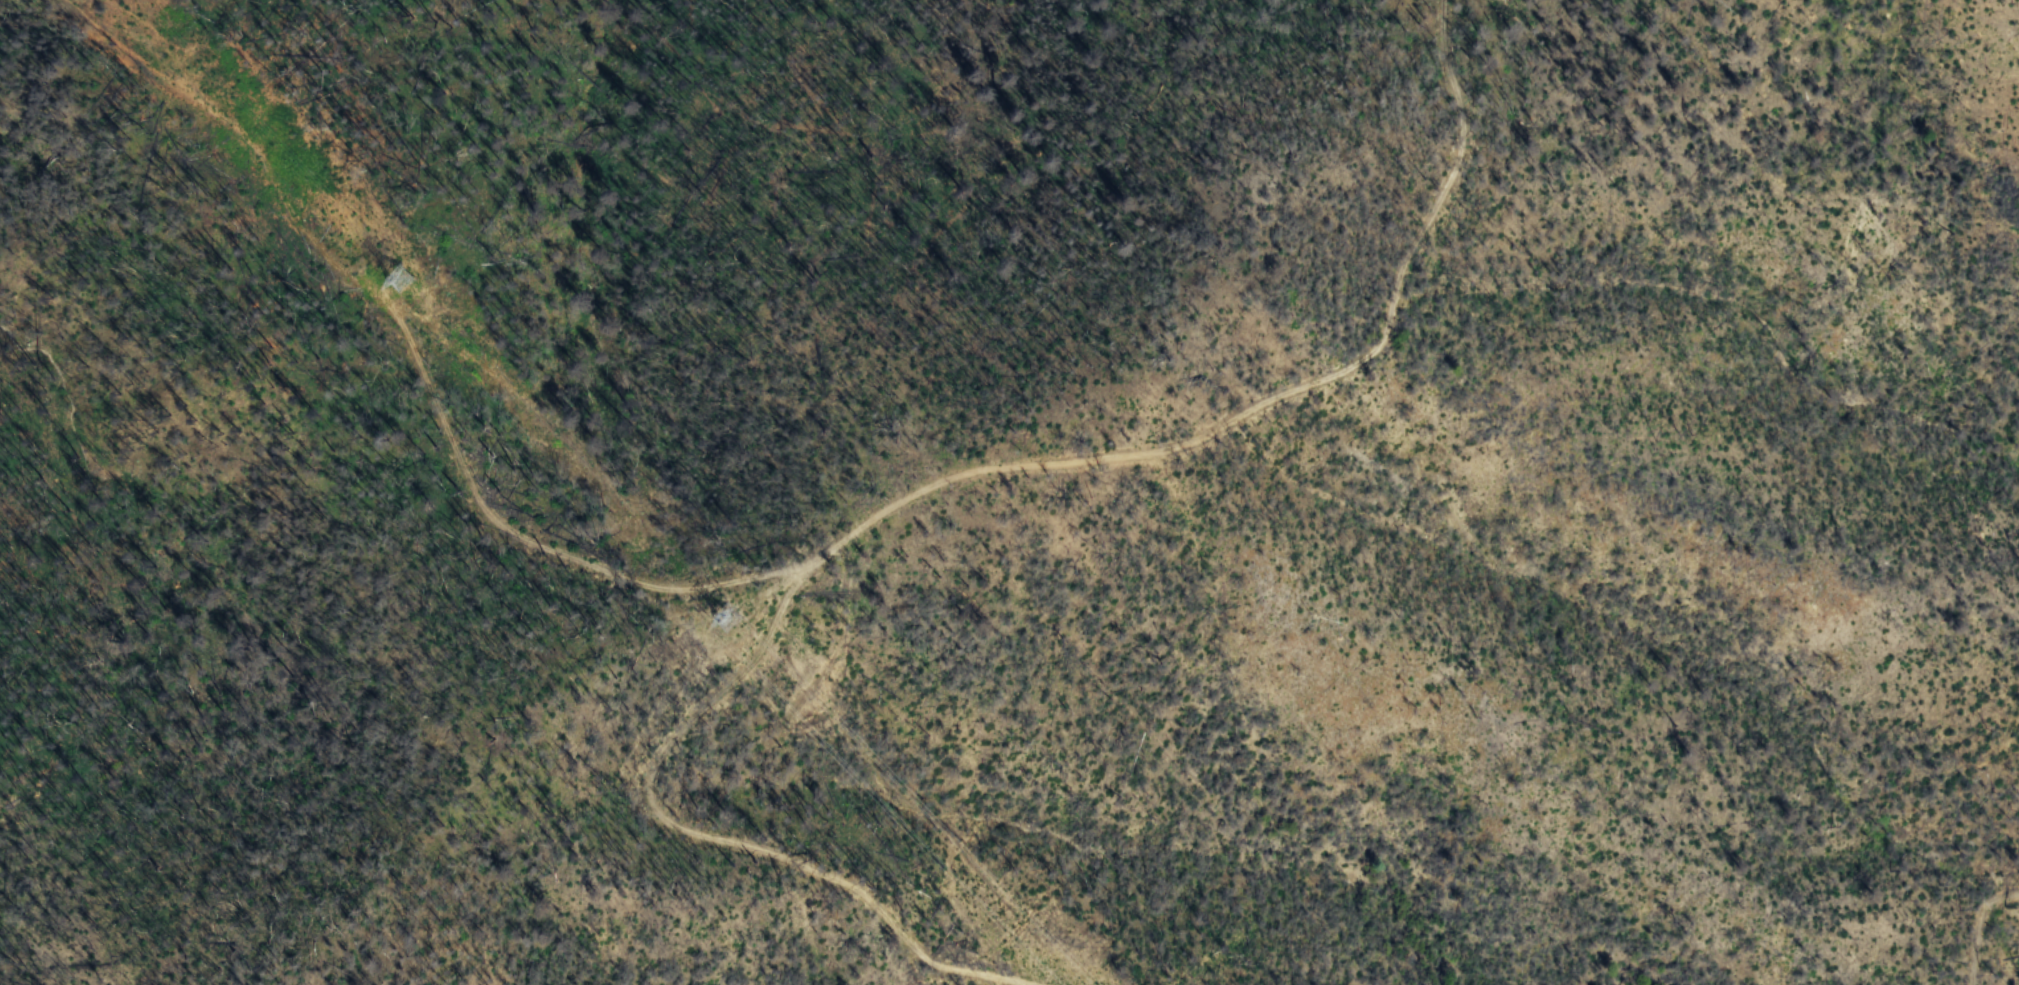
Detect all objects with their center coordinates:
power tower: (404, 280)
power tower: (733, 620)

